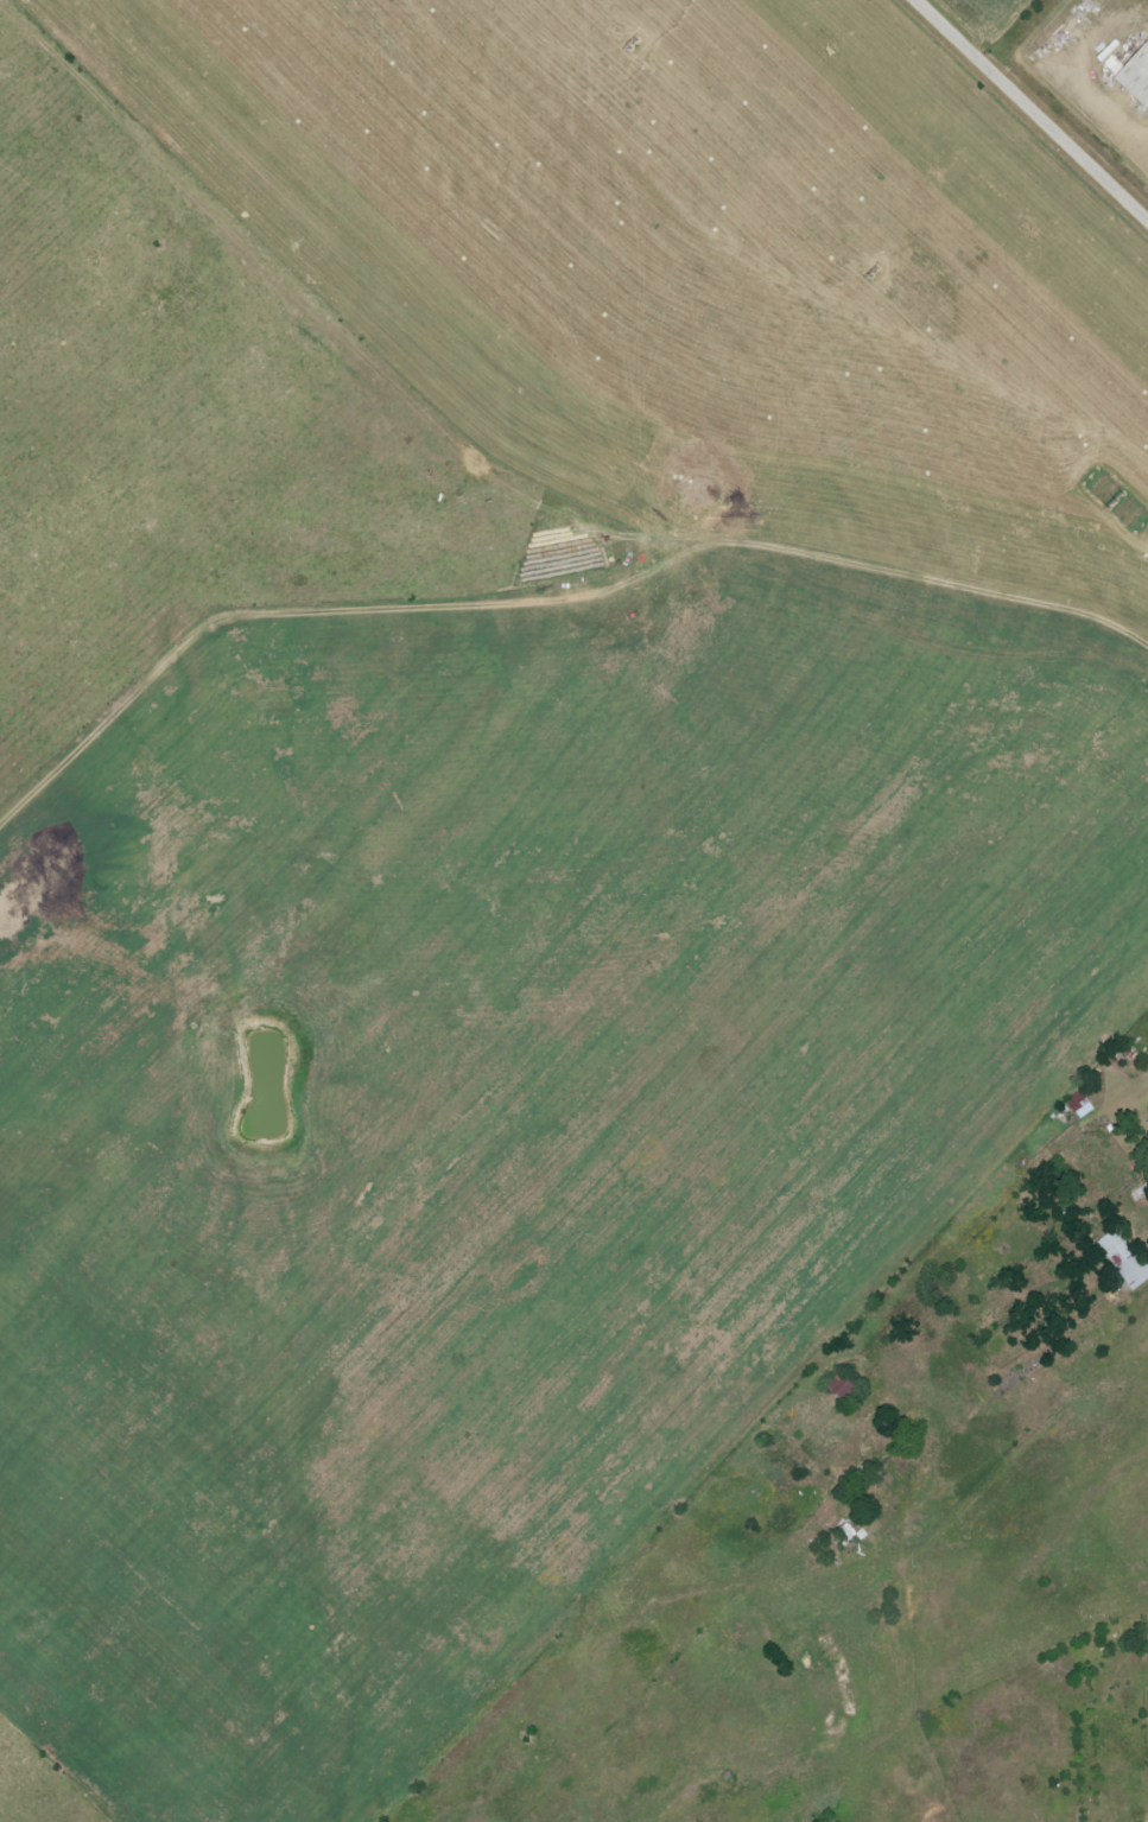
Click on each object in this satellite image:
power tower: (624, 39)
building: (1137, 74)
road: (1033, 107)
power tower: (867, 271)
power tower: (1109, 497)
building: (1128, 1258)

